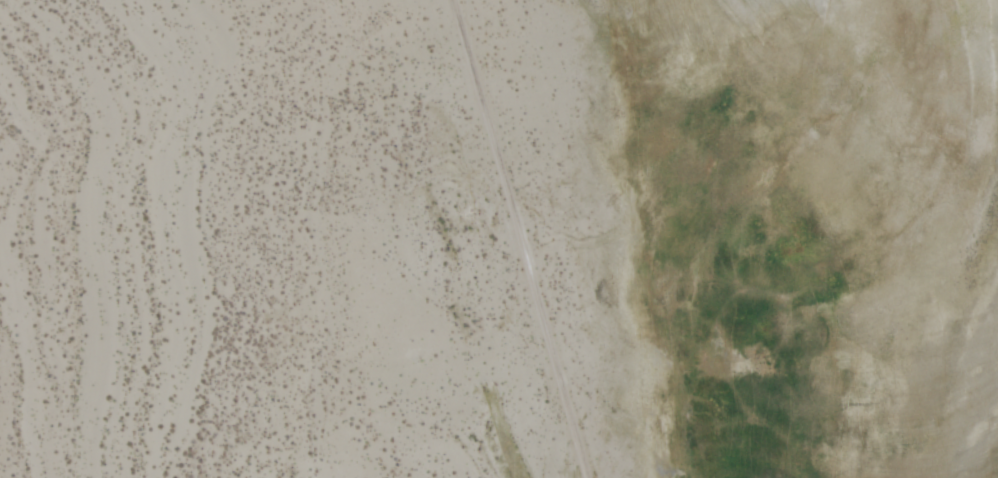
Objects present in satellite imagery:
road: (511, 239)

